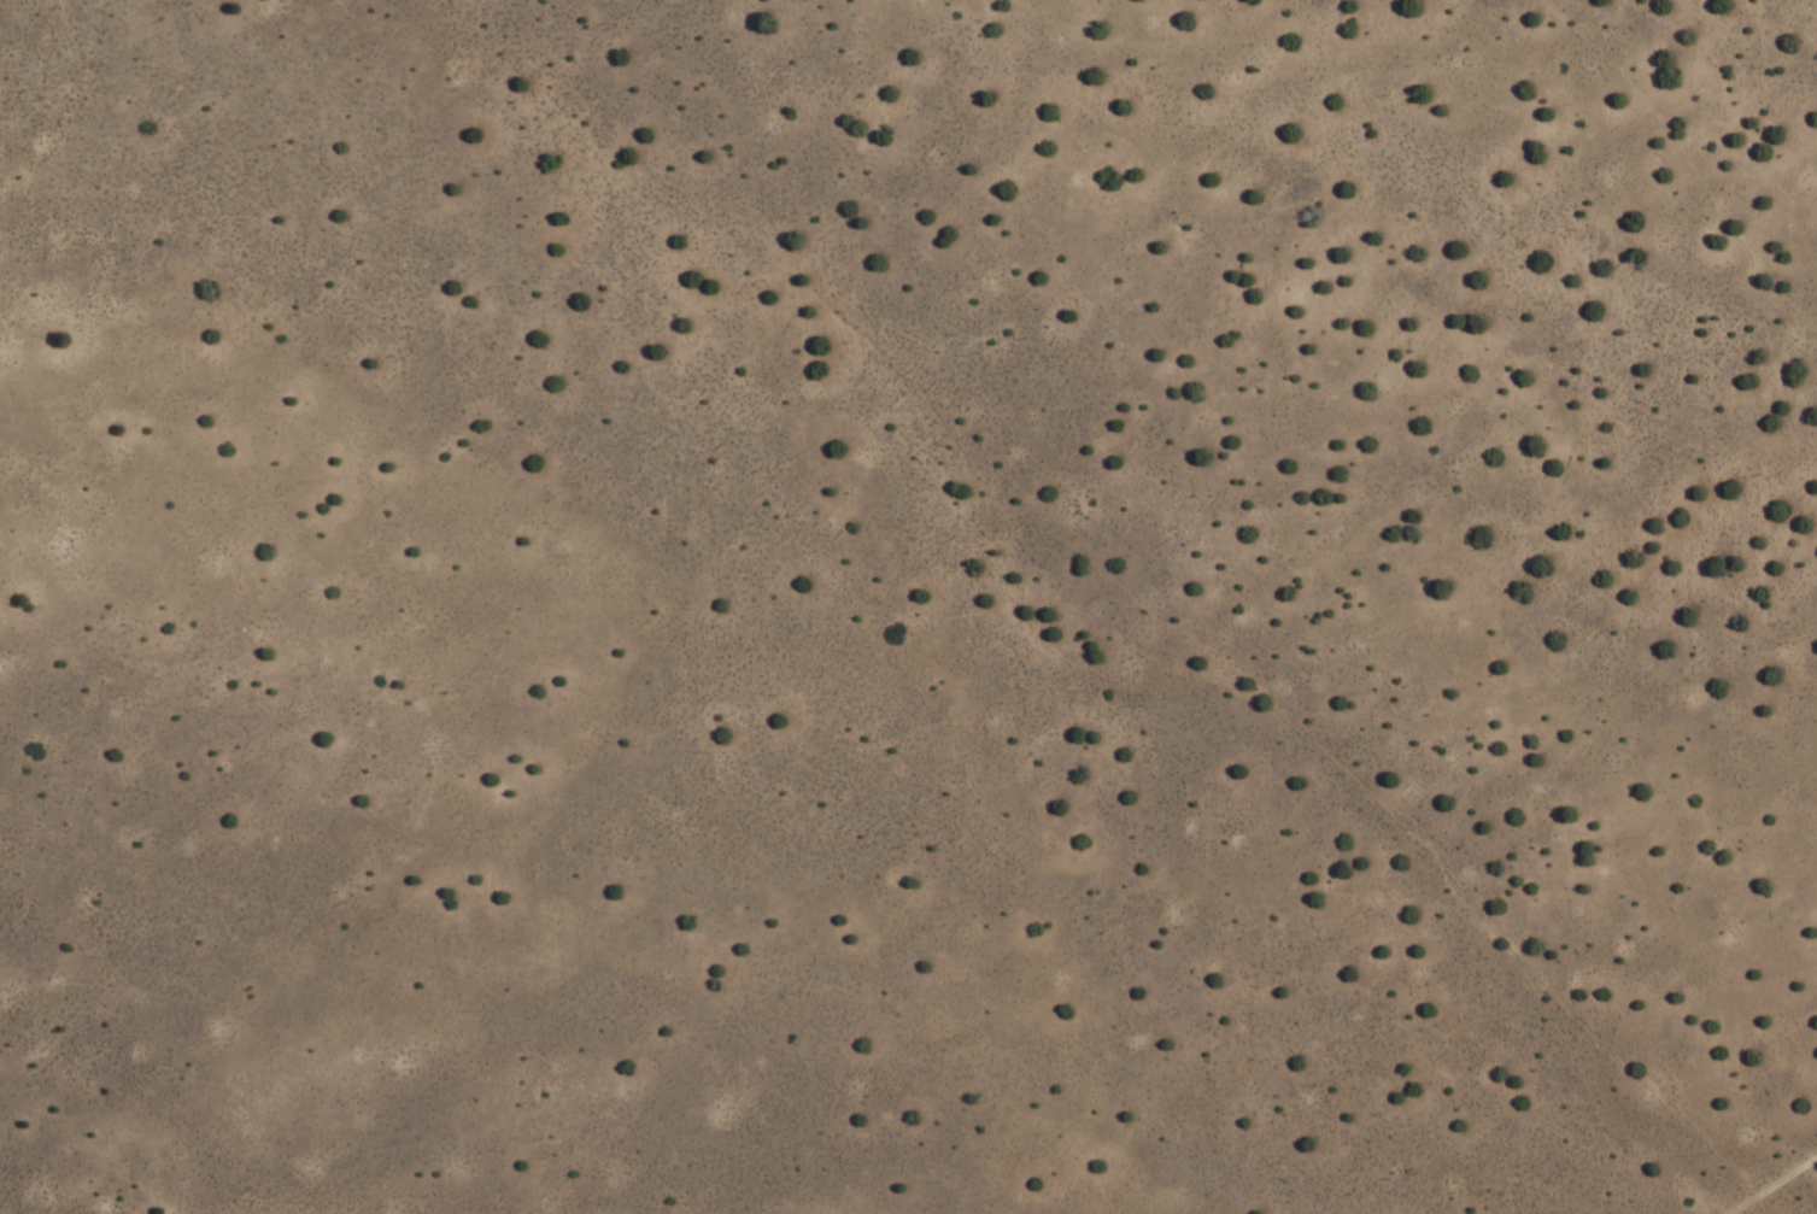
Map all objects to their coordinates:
road: (1765, 1181)

